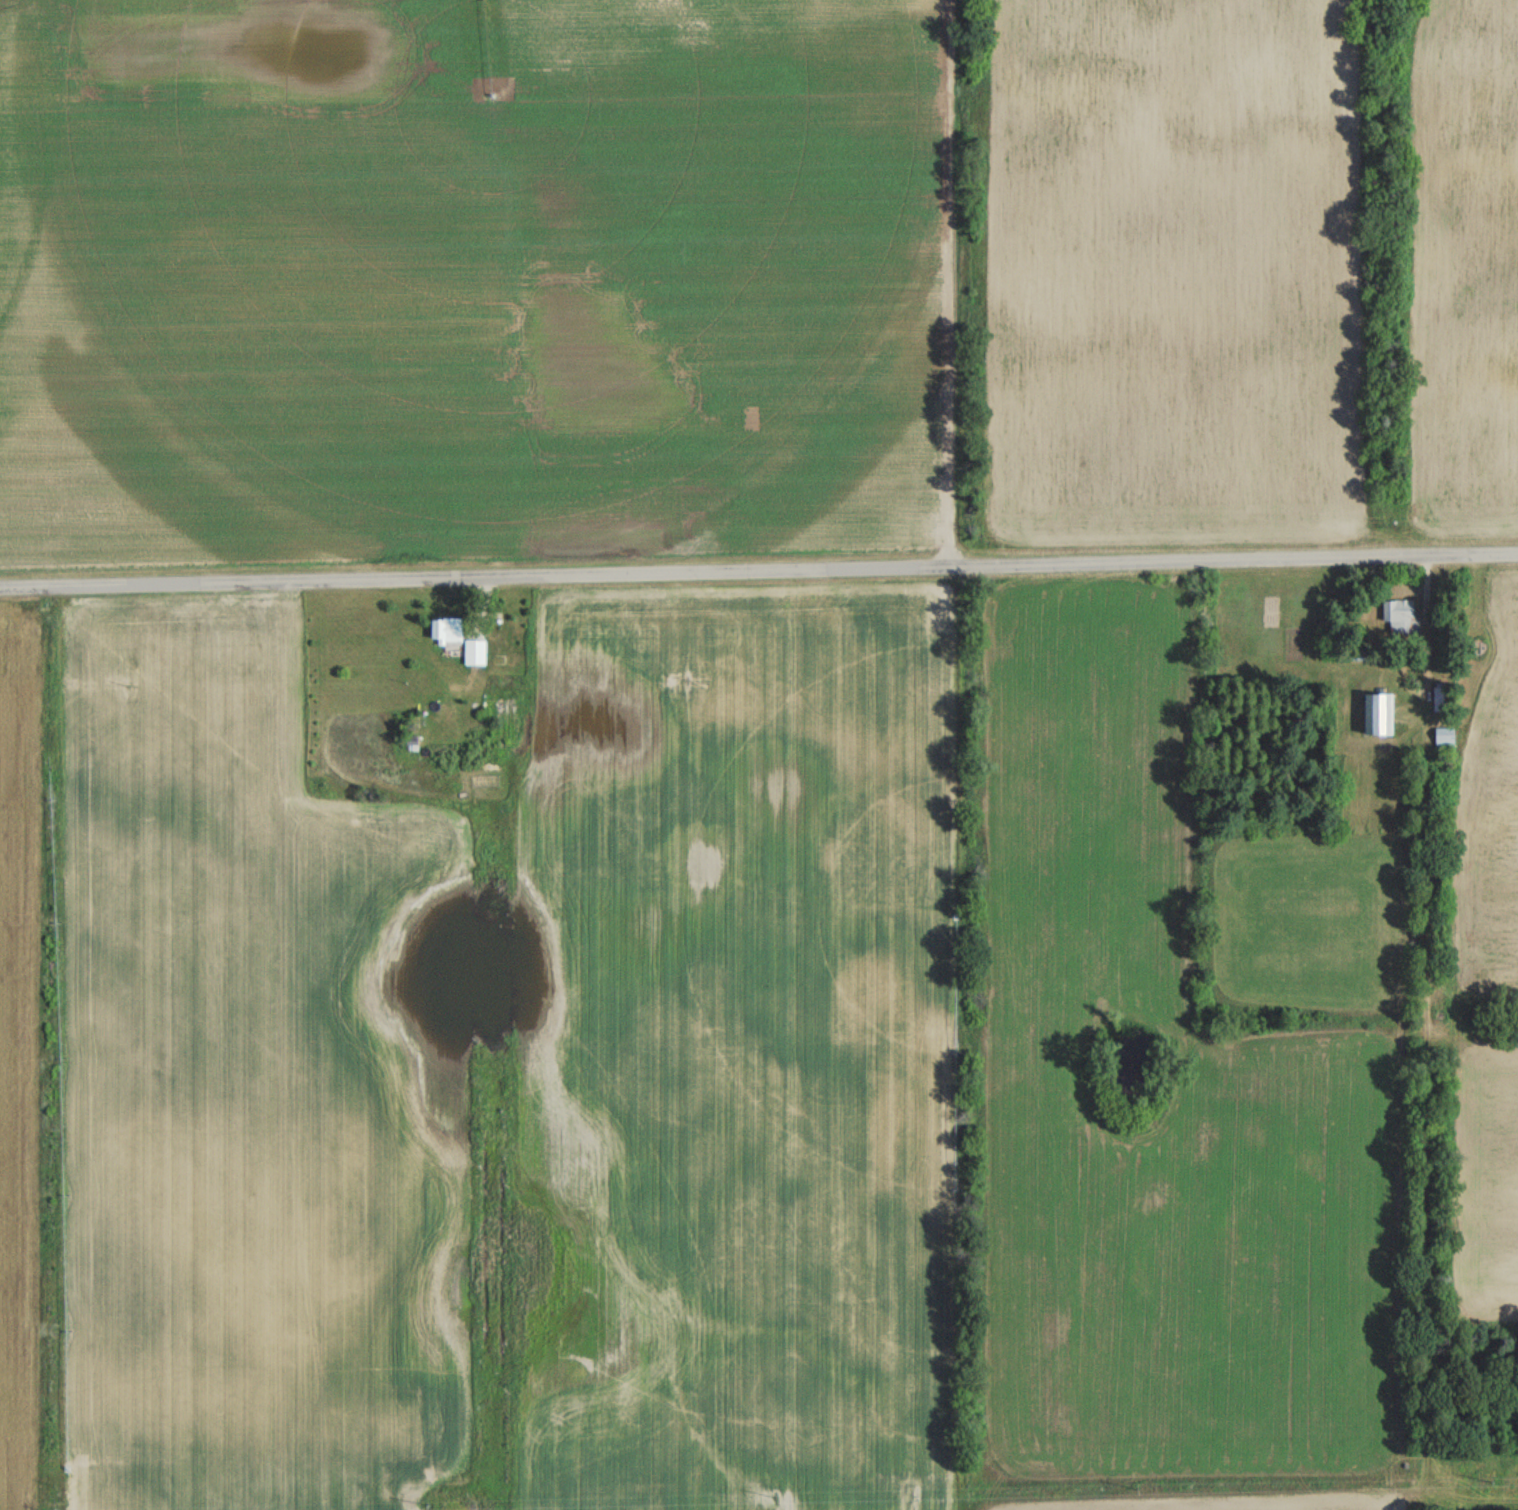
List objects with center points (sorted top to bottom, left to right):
road: (758, 569)
building: (1400, 615)
building: (446, 630)
building: (1440, 699)
building: (1378, 714)
building: (1444, 737)
power tower: (1484, 1480)
power tower: (1129, 1490)
power tower: (767, 1497)
power tower: (419, 1504)

